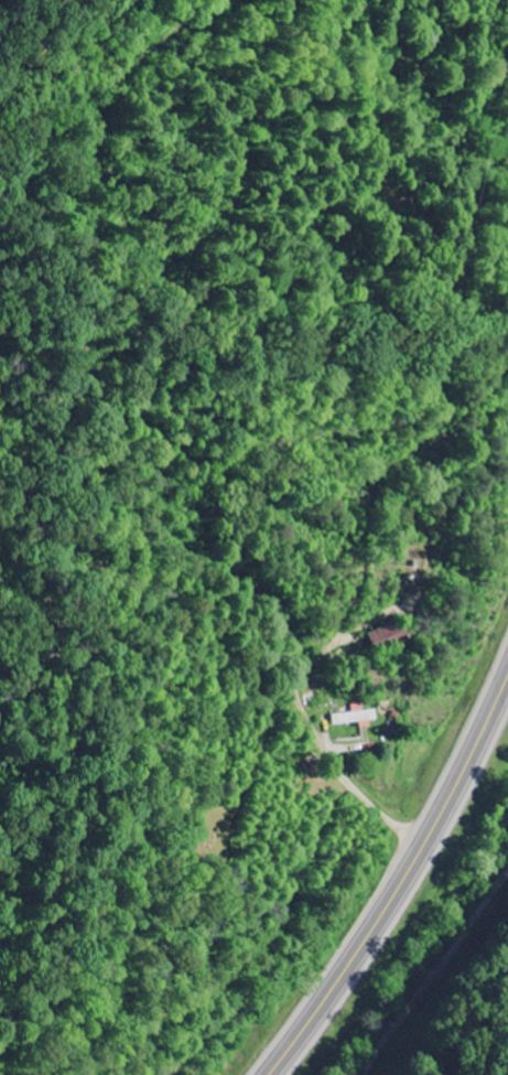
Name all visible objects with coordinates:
road: (152, 420)
building: (390, 638)
building: (356, 718)
road: (404, 879)
road: (466, 1001)

